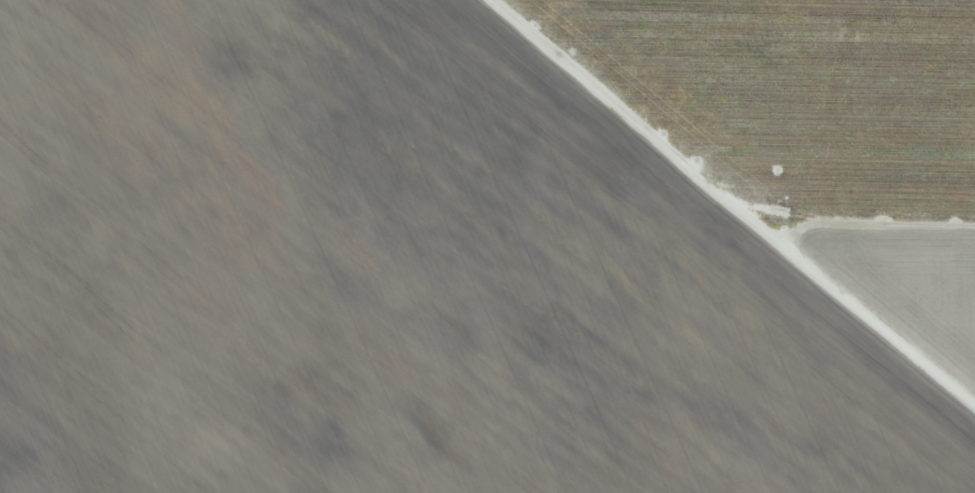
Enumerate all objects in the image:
road: (757, 179)
road: (931, 241)

